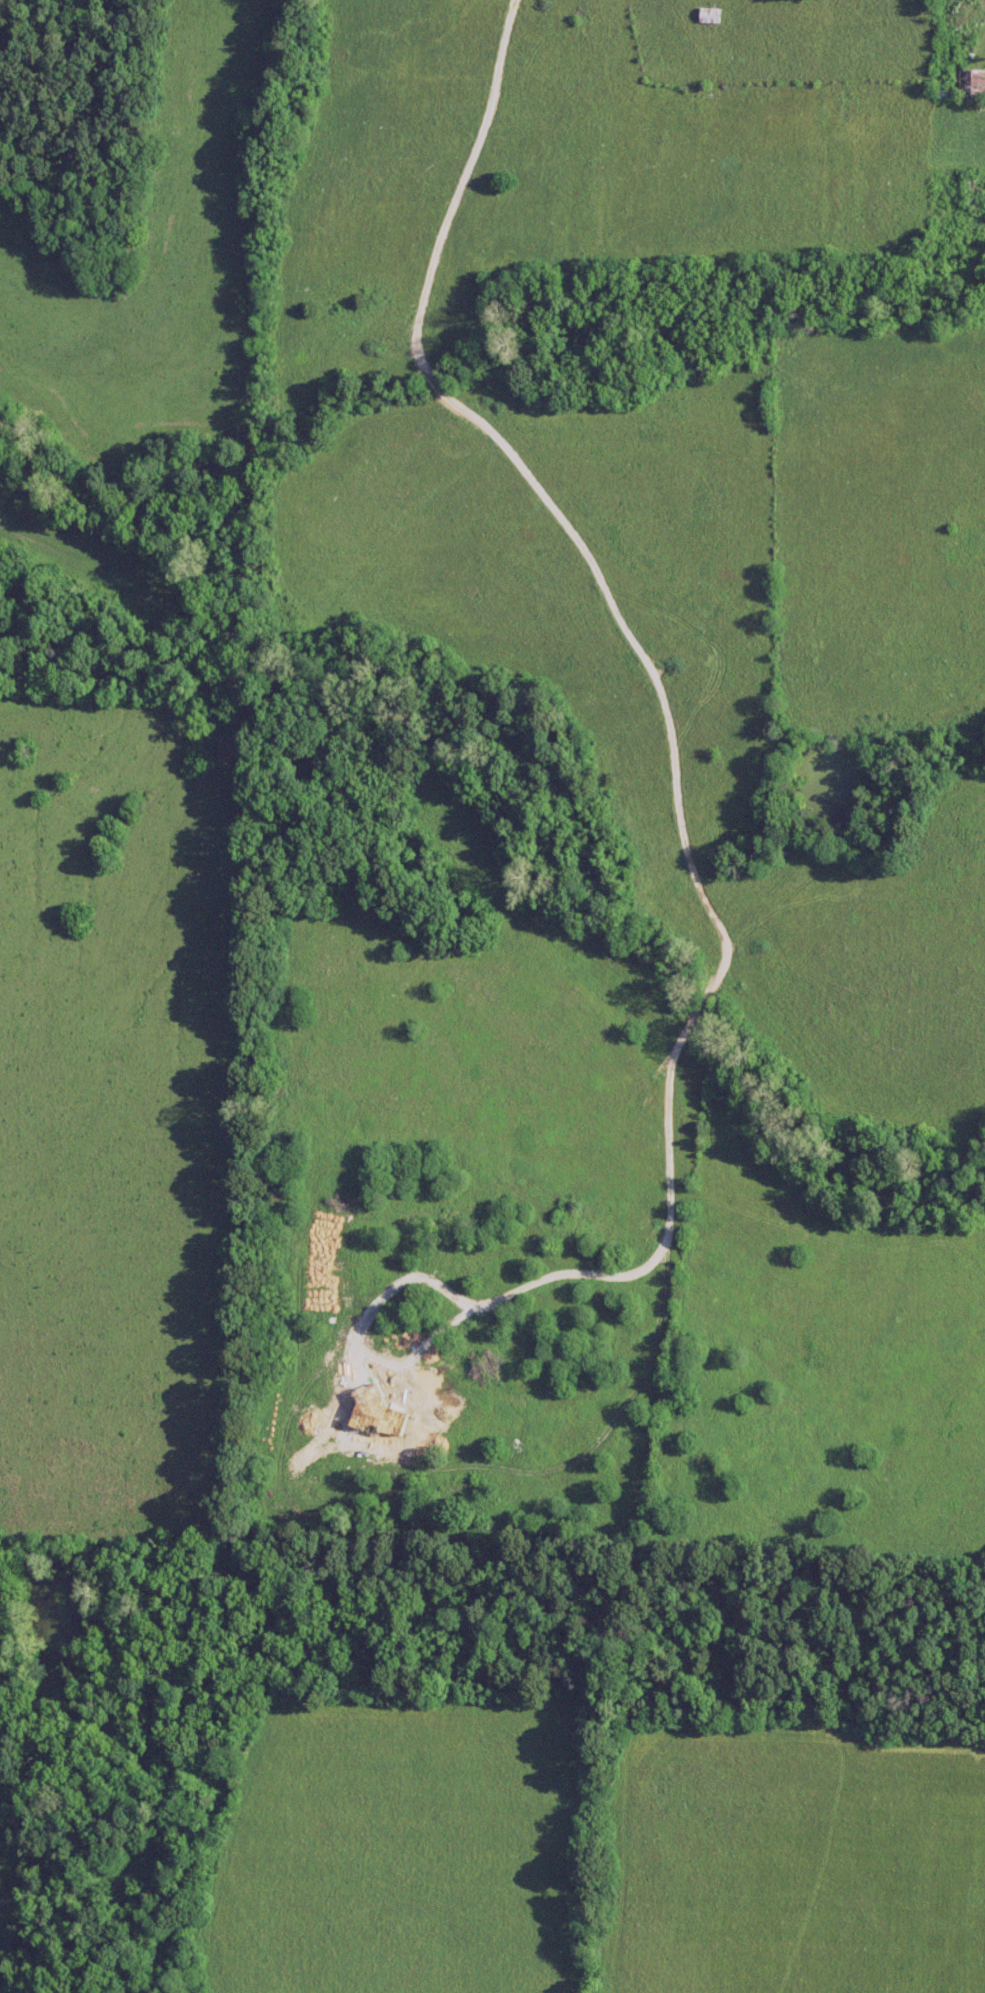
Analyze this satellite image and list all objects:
building: (711, 15)

